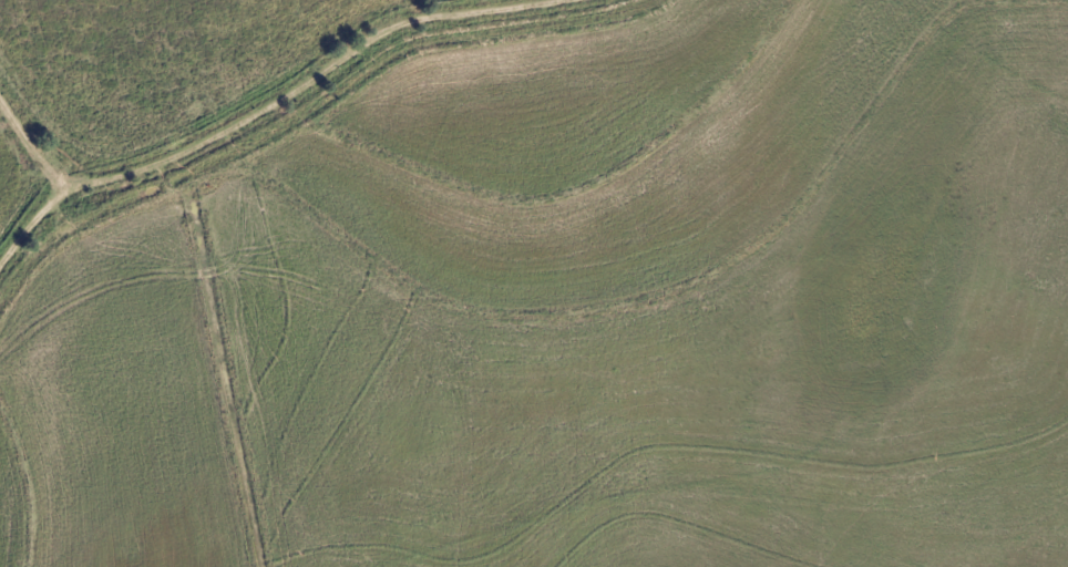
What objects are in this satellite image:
road: (274, 91)
road: (28, 127)

